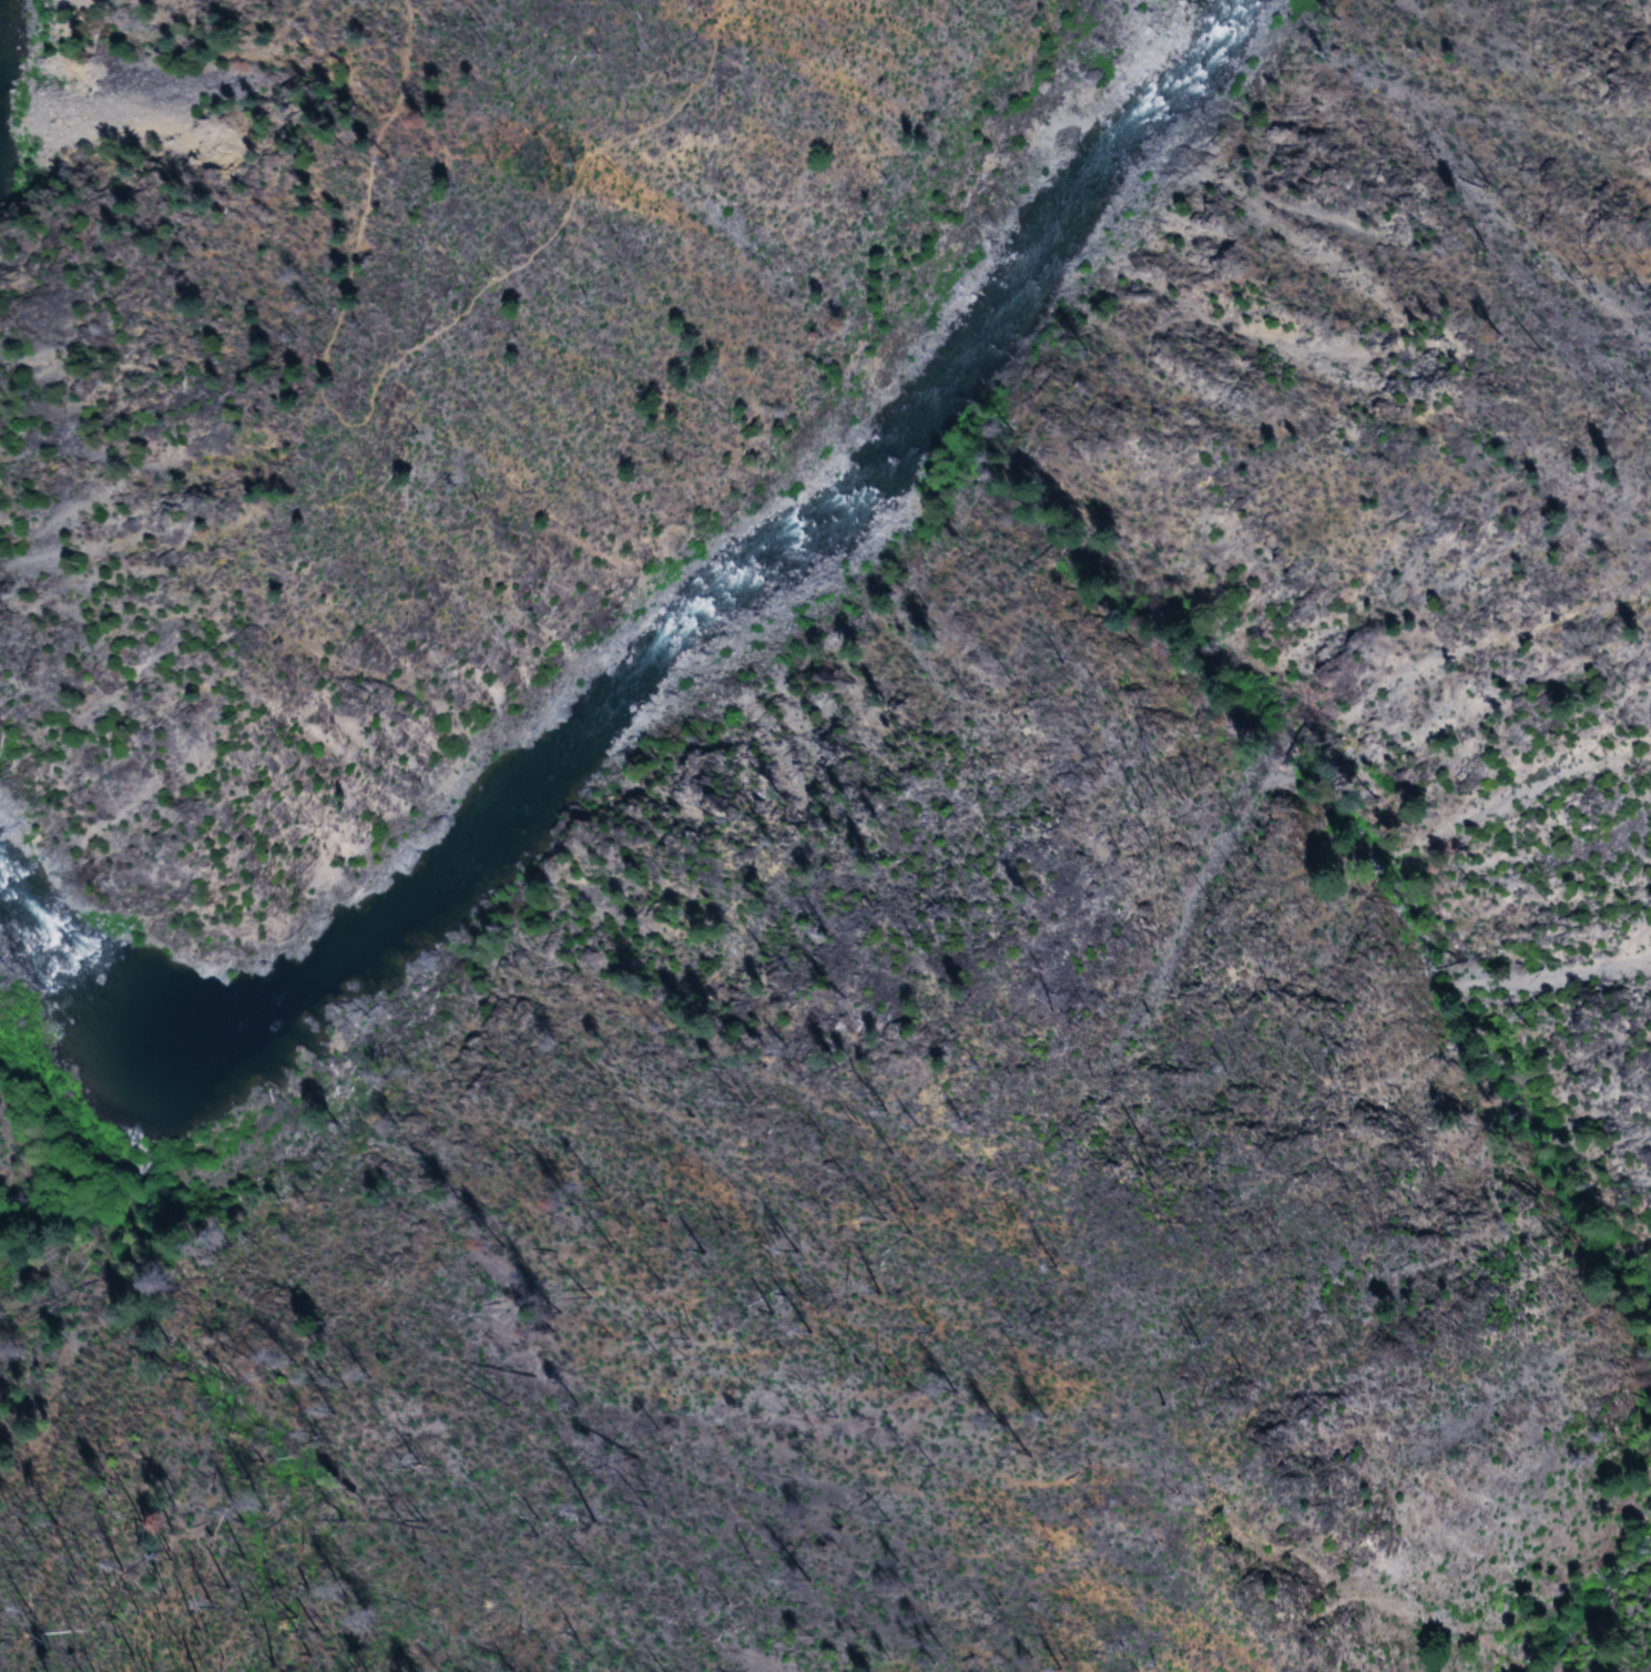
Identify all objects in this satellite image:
road: (388, 365)
river: (676, 644)

